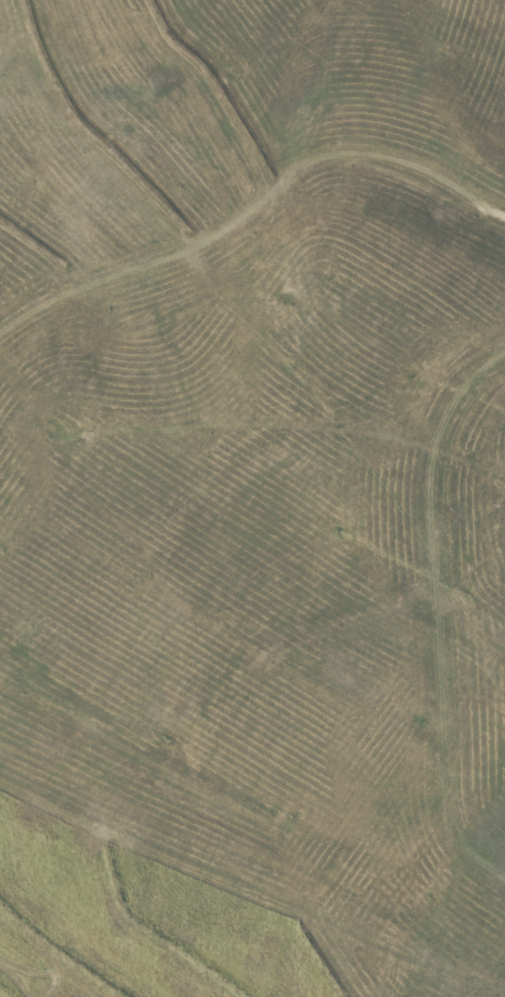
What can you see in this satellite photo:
landfill: (252, 498)

